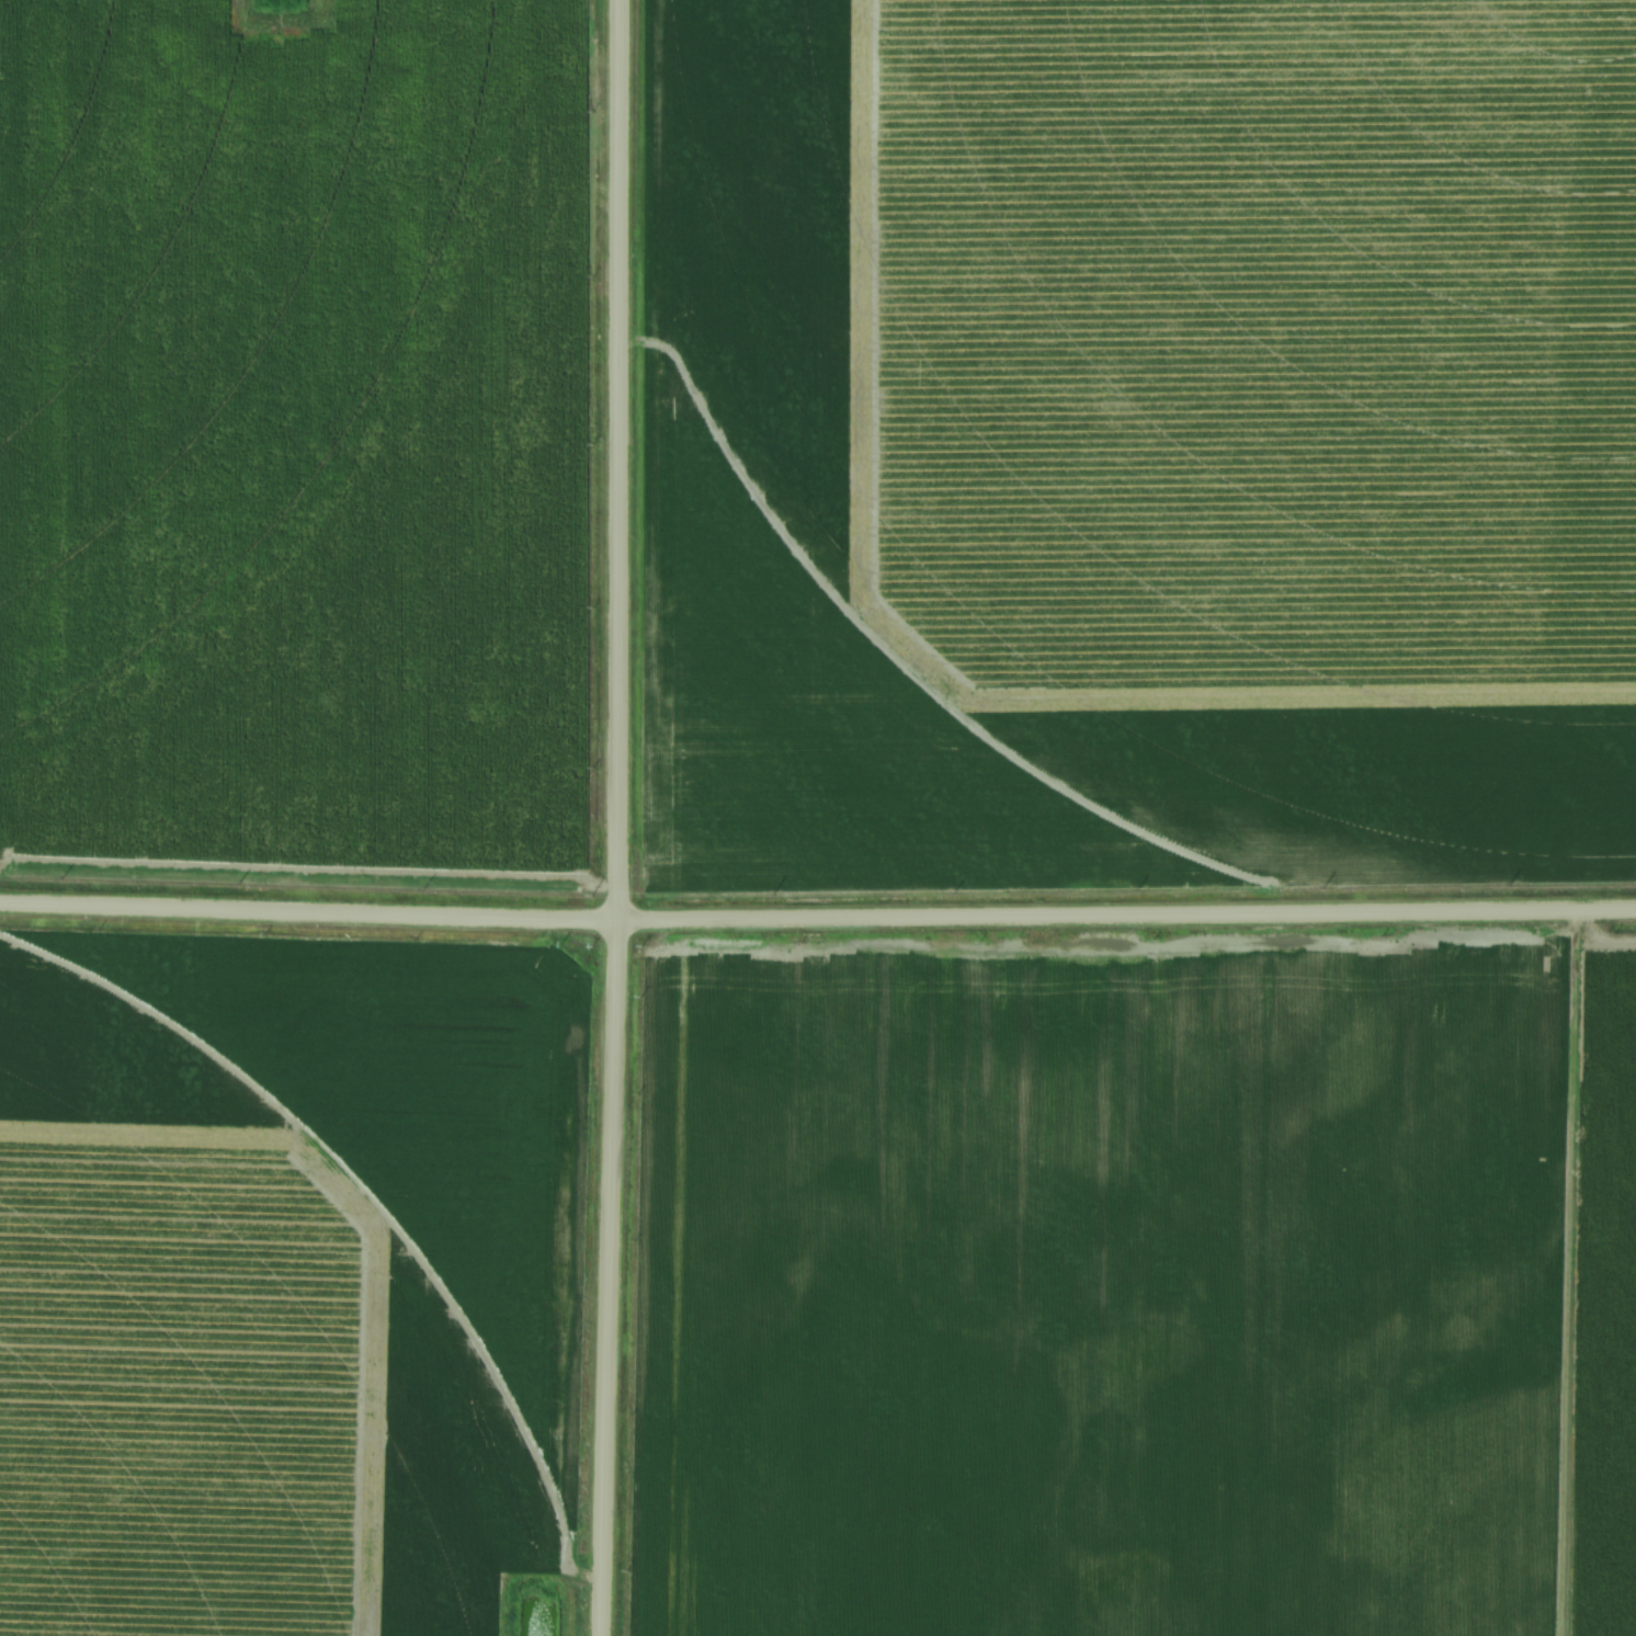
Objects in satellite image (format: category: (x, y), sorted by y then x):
road: (609, 462)
road: (304, 914)
road: (1122, 918)
road: (600, 1280)

